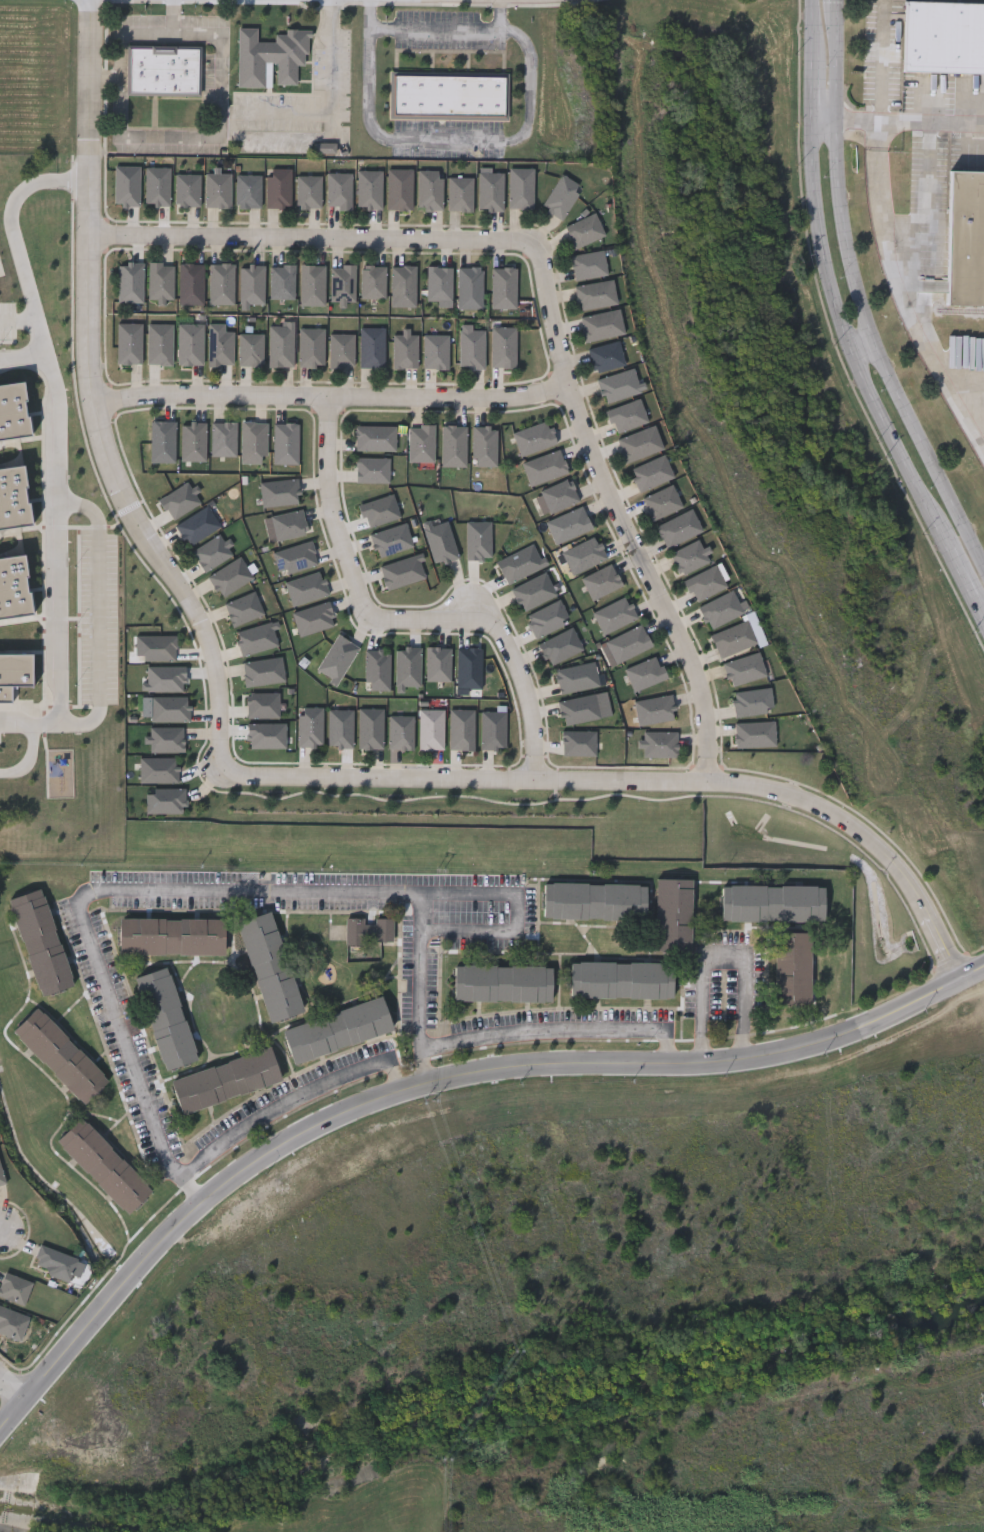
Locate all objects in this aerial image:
road: (174, 15)
road: (439, 25)
building: (944, 39)
building: (270, 55)
road: (881, 61)
building: (163, 69)
building: (448, 96)
road: (333, 101)
road: (219, 113)
road: (897, 123)
road: (289, 137)
road: (456, 138)
road: (72, 178)
building: (157, 187)
building: (279, 189)
building: (521, 189)
building: (369, 190)
building: (399, 190)
building: (430, 190)
building: (187, 191)
building: (217, 191)
building: (339, 191)
building: (248, 192)
building: (309, 192)
building: (491, 192)
building: (460, 195)
building: (561, 197)
building: (584, 231)
building: (965, 239)
building: (589, 266)
road: (23, 270)
building: (160, 281)
building: (281, 282)
building: (373, 282)
building: (130, 283)
building: (221, 284)
building: (342, 284)
building: (439, 284)
building: (470, 284)
building: (190, 285)
building: (251, 285)
building: (312, 286)
building: (403, 286)
building: (504, 289)
road: (903, 294)
road: (858, 295)
building: (596, 296)
road: (551, 305)
railway: (961, 311)
road: (19, 319)
building: (602, 326)
road: (841, 326)
building: (129, 344)
building: (160, 345)
building: (190, 345)
building: (281, 346)
building: (311, 347)
building: (371, 348)
building: (471, 348)
building: (503, 348)
building: (220, 349)
road: (863, 349)
building: (250, 350)
building: (341, 350)
building: (404, 350)
building: (435, 352)
building: (606, 357)
building: (619, 386)
road: (332, 398)
building: (627, 417)
building: (374, 438)
building: (534, 438)
building: (223, 440)
building: (162, 442)
building: (193, 442)
building: (253, 443)
building: (286, 444)
building: (421, 444)
building: (639, 444)
building: (453, 446)
building: (484, 447)
building: (544, 468)
building: (371, 471)
building: (651, 474)
building: (559, 496)
building: (662, 503)
building: (568, 525)
building: (679, 529)
building: (584, 556)
building: (689, 558)
road: (55, 561)
building: (601, 582)
building: (705, 584)
road: (106, 609)
building: (721, 609)
building: (614, 615)
road: (402, 623)
building: (734, 638)
building: (628, 644)
building: (744, 668)
building: (645, 673)
building: (752, 701)
building: (654, 709)
building: (754, 733)
building: (659, 743)
road: (35, 752)
road: (236, 773)
road: (132, 895)
building: (595, 899)
building: (774, 902)
building: (674, 913)
building: (369, 929)
road: (482, 930)
building: (172, 935)
building: (40, 939)
road: (723, 957)
building: (270, 965)
building: (793, 966)
building: (621, 978)
building: (503, 981)
road: (416, 989)
building: (166, 1016)
building: (338, 1028)
road: (557, 1028)
building: (60, 1053)
building: (226, 1079)
road: (436, 1080)
road: (293, 1097)
building: (104, 1164)
building: (1, 1178)
building: (53, 1261)
building: (14, 1287)
building: (12, 1321)
road: (12, 1384)

